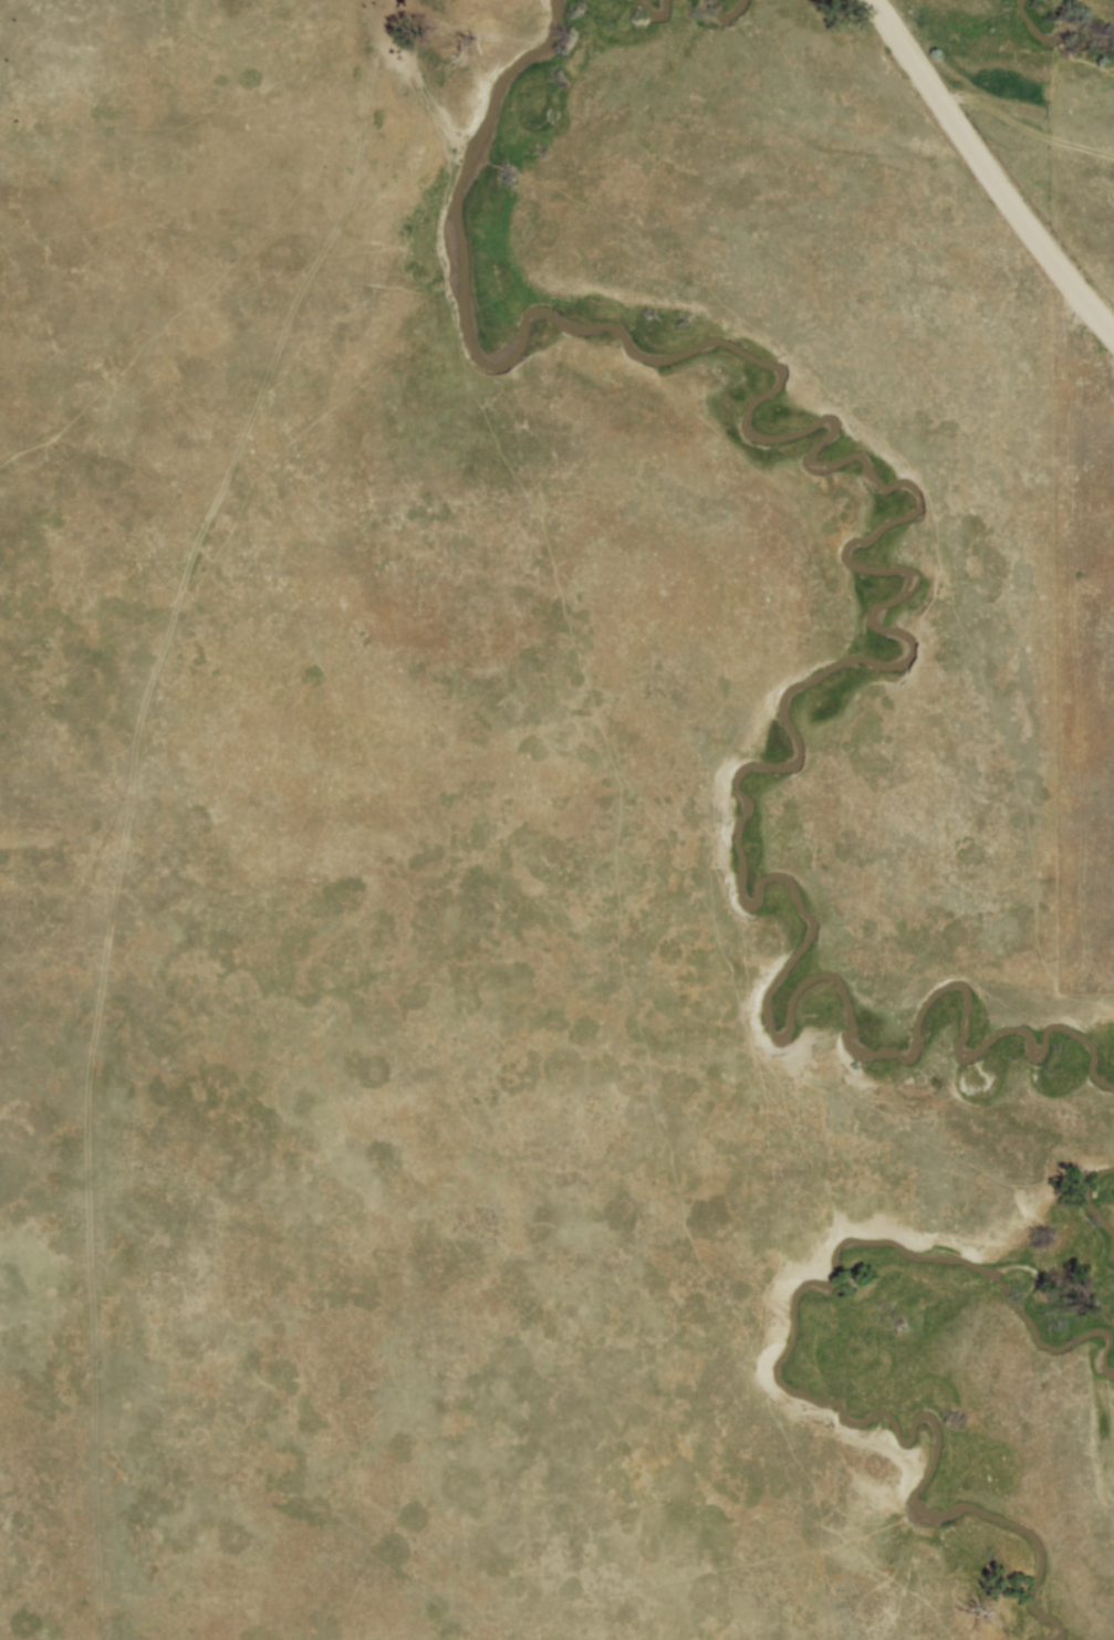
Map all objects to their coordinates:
road: (977, 181)

